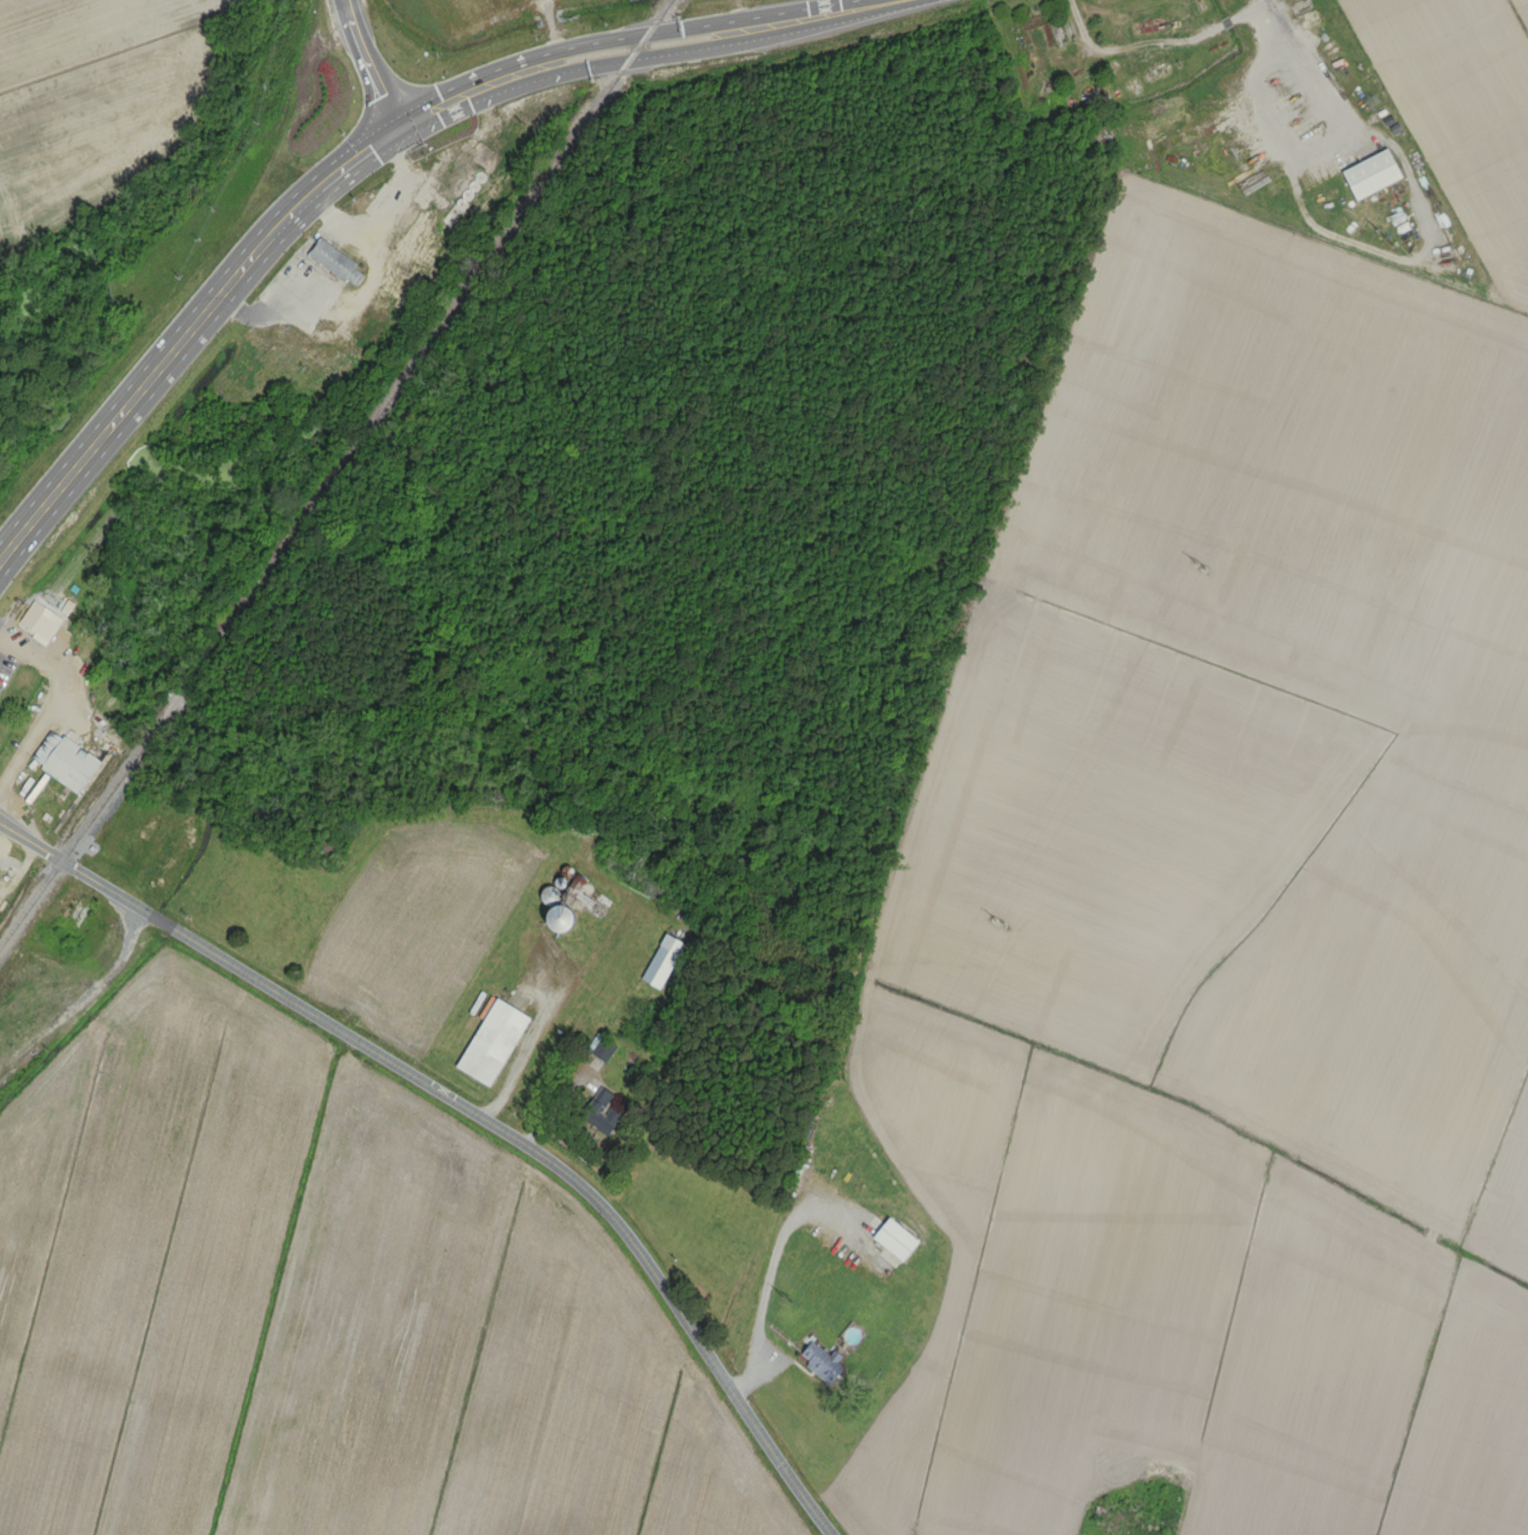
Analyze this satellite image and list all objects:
road: (1250, 11)
road: (1226, 23)
road: (638, 38)
road: (1129, 49)
road: (665, 51)
road: (369, 64)
road: (409, 122)
building: (480, 155)
building: (1369, 174)
building: (422, 232)
power tower: (1383, 237)
building: (329, 258)
building: (403, 274)
road: (188, 325)
railway: (333, 473)
building: (69, 562)
power tower: (1200, 566)
building: (38, 623)
road: (3, 643)
road: (54, 705)
building: (59, 763)
building: (160, 835)
building: (633, 873)
building: (546, 895)
building: (75, 911)
building: (551, 920)
power tower: (998, 921)
building: (662, 962)
building: (490, 1042)
building: (600, 1049)
building: (600, 1112)
road: (471, 1121)
power tower: (785, 1299)
building: (820, 1363)
building: (1105, 1515)

